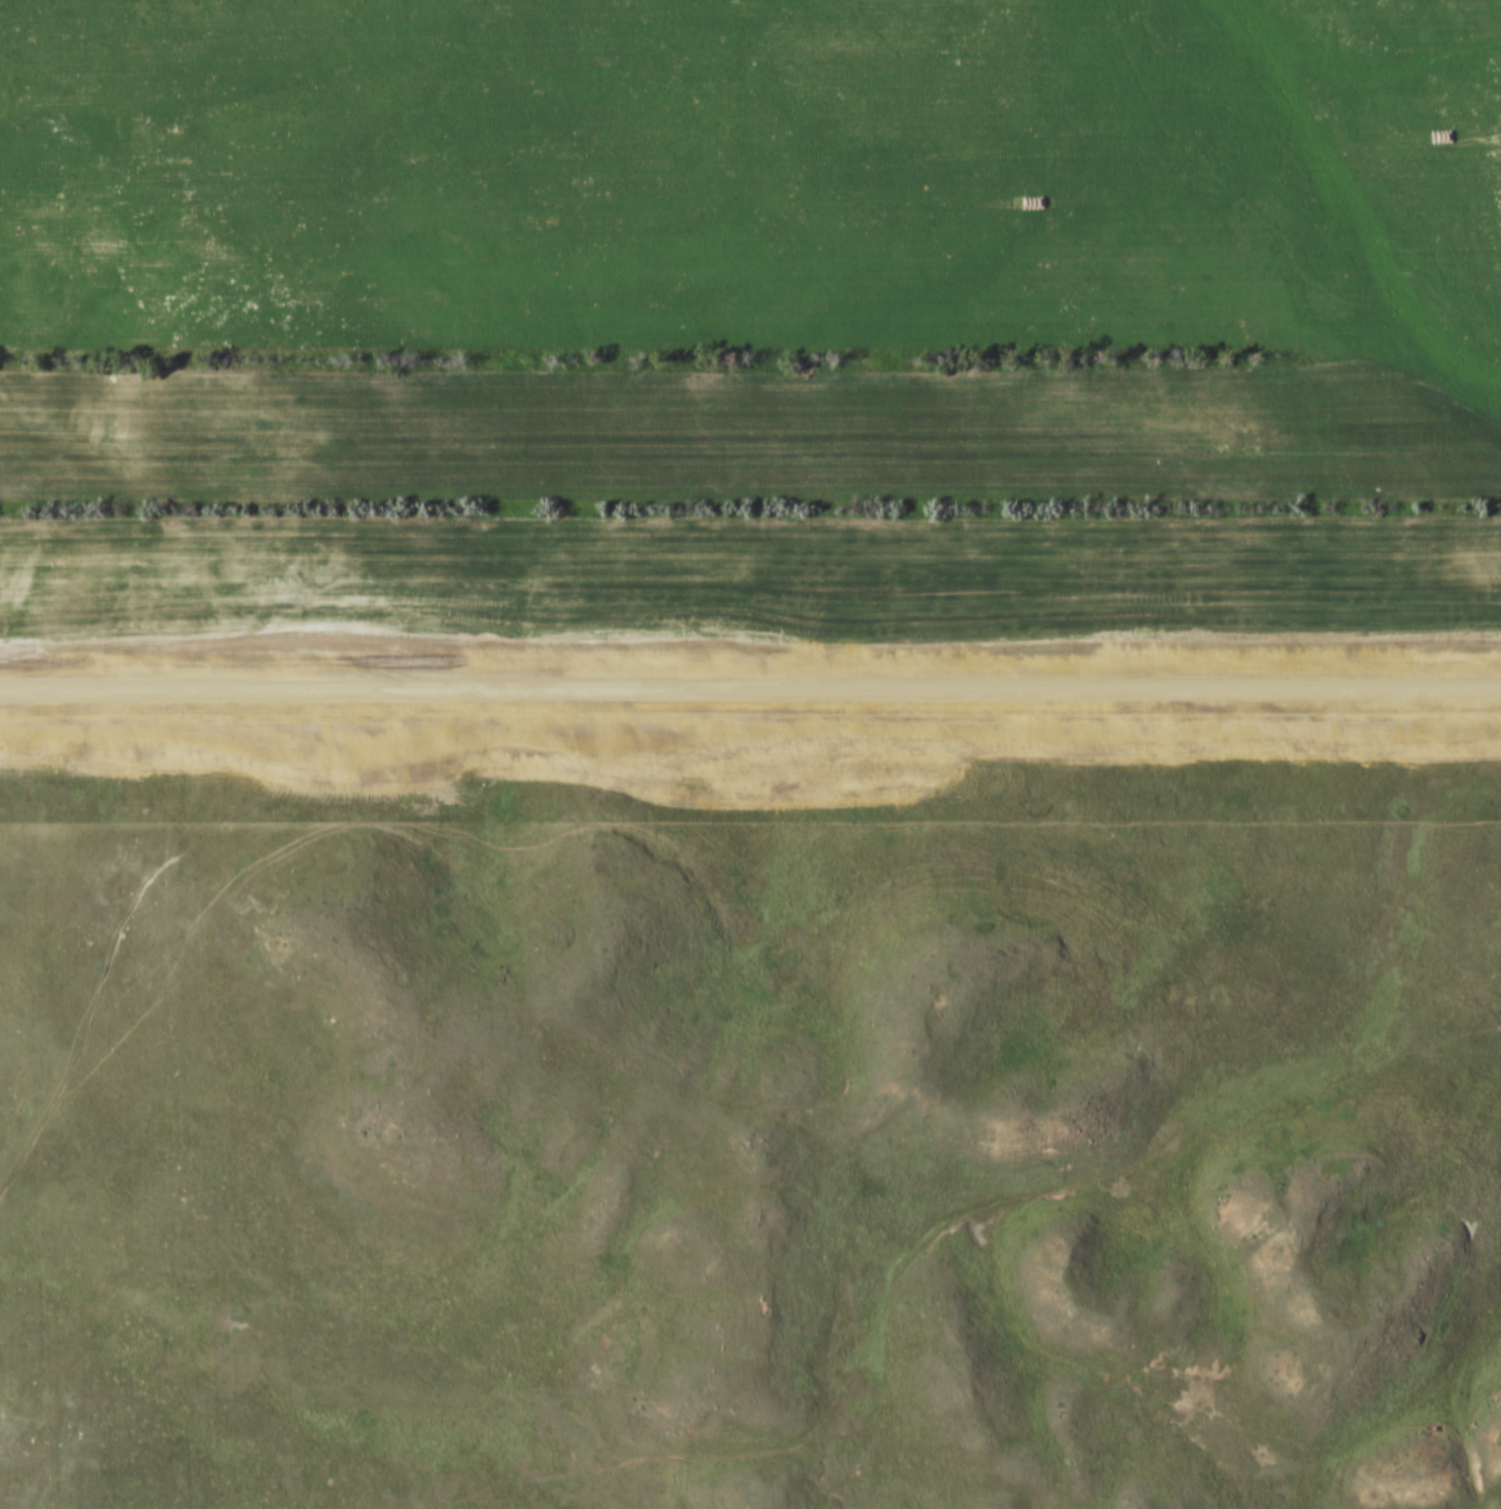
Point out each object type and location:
road: (750, 692)

